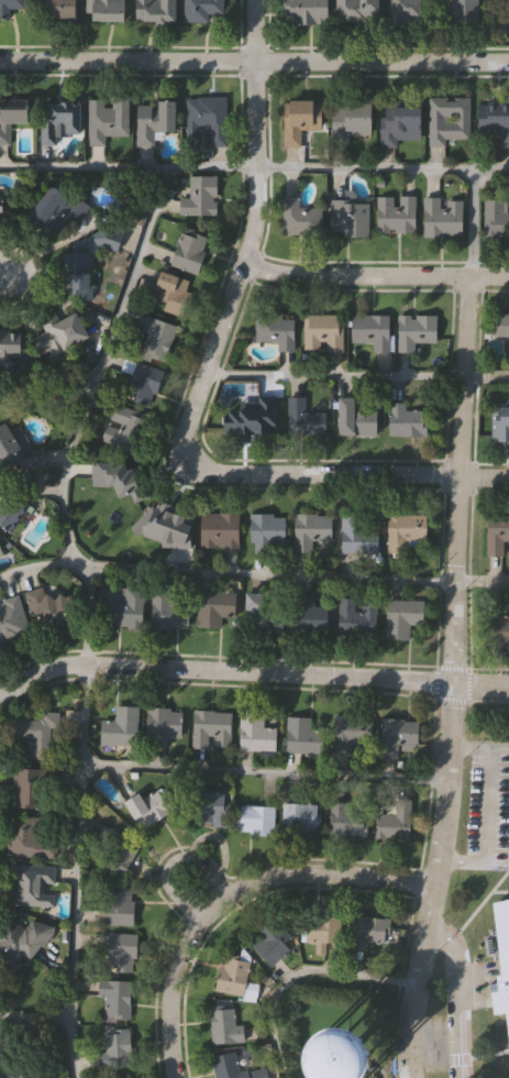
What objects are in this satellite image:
building: (10, 7)
building: (59, 8)
building: (204, 9)
building: (107, 10)
building: (359, 10)
building: (461, 10)
building: (158, 11)
building: (308, 11)
building: (410, 11)
road: (254, 63)
building: (14, 114)
building: (60, 117)
building: (209, 117)
building: (109, 118)
building: (301, 118)
building: (354, 118)
building: (450, 118)
building: (495, 120)
building: (158, 121)
building: (403, 122)
road: (254, 169)
building: (202, 195)
building: (3, 201)
building: (60, 206)
building: (398, 211)
building: (351, 216)
building: (444, 216)
building: (301, 217)
building: (497, 217)
road: (472, 224)
building: (191, 250)
road: (4, 271)
building: (82, 272)
road: (375, 277)
building: (175, 290)
building: (505, 322)
building: (277, 328)
building: (373, 328)
building: (417, 329)
building: (324, 331)
building: (62, 332)
building: (7, 339)
building: (159, 339)
road: (100, 364)
road: (47, 377)
road: (356, 377)
building: (144, 382)
road: (199, 389)
building: (252, 417)
building: (306, 417)
building: (357, 417)
building: (407, 419)
building: (500, 424)
building: (123, 426)
building: (11, 446)
building: (122, 491)
building: (14, 512)
building: (167, 527)
building: (313, 528)
building: (406, 529)
building: (219, 530)
building: (270, 530)
building: (498, 531)
building: (361, 532)
building: (1, 550)
road: (34, 570)
road: (289, 575)
building: (125, 606)
building: (51, 607)
building: (173, 607)
building: (217, 607)
building: (267, 609)
building: (310, 615)
building: (358, 616)
building: (405, 616)
building: (11, 619)
building: (498, 630)
road: (252, 673)
road: (451, 679)
building: (164, 725)
building: (122, 726)
building: (213, 728)
building: (352, 729)
building: (256, 732)
building: (302, 734)
building: (41, 735)
building: (399, 735)
road: (263, 774)
building: (29, 788)
building: (151, 807)
building: (208, 807)
road: (487, 807)
building: (302, 816)
building: (257, 820)
building: (348, 820)
building: (397, 822)
building: (31, 839)
building: (120, 853)
road: (171, 861)
road: (76, 871)
building: (35, 884)
road: (230, 892)
building: (121, 905)
building: (323, 930)
building: (24, 941)
building: (273, 942)
building: (123, 952)
building: (502, 958)
road: (298, 972)
building: (233, 975)
road: (455, 994)
building: (118, 1000)
road: (34, 1018)
building: (225, 1024)
building: (118, 1048)
building: (336, 1056)
water tower: (338, 1061)
building: (229, 1066)
building: (12, 1070)
building: (132, 1077)

